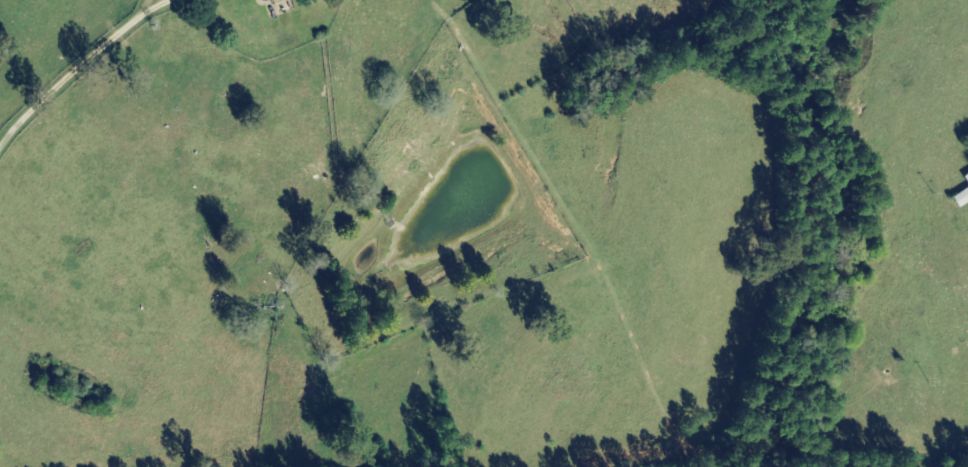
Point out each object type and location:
building: (266, 1)
road: (88, 74)
road: (942, 334)

